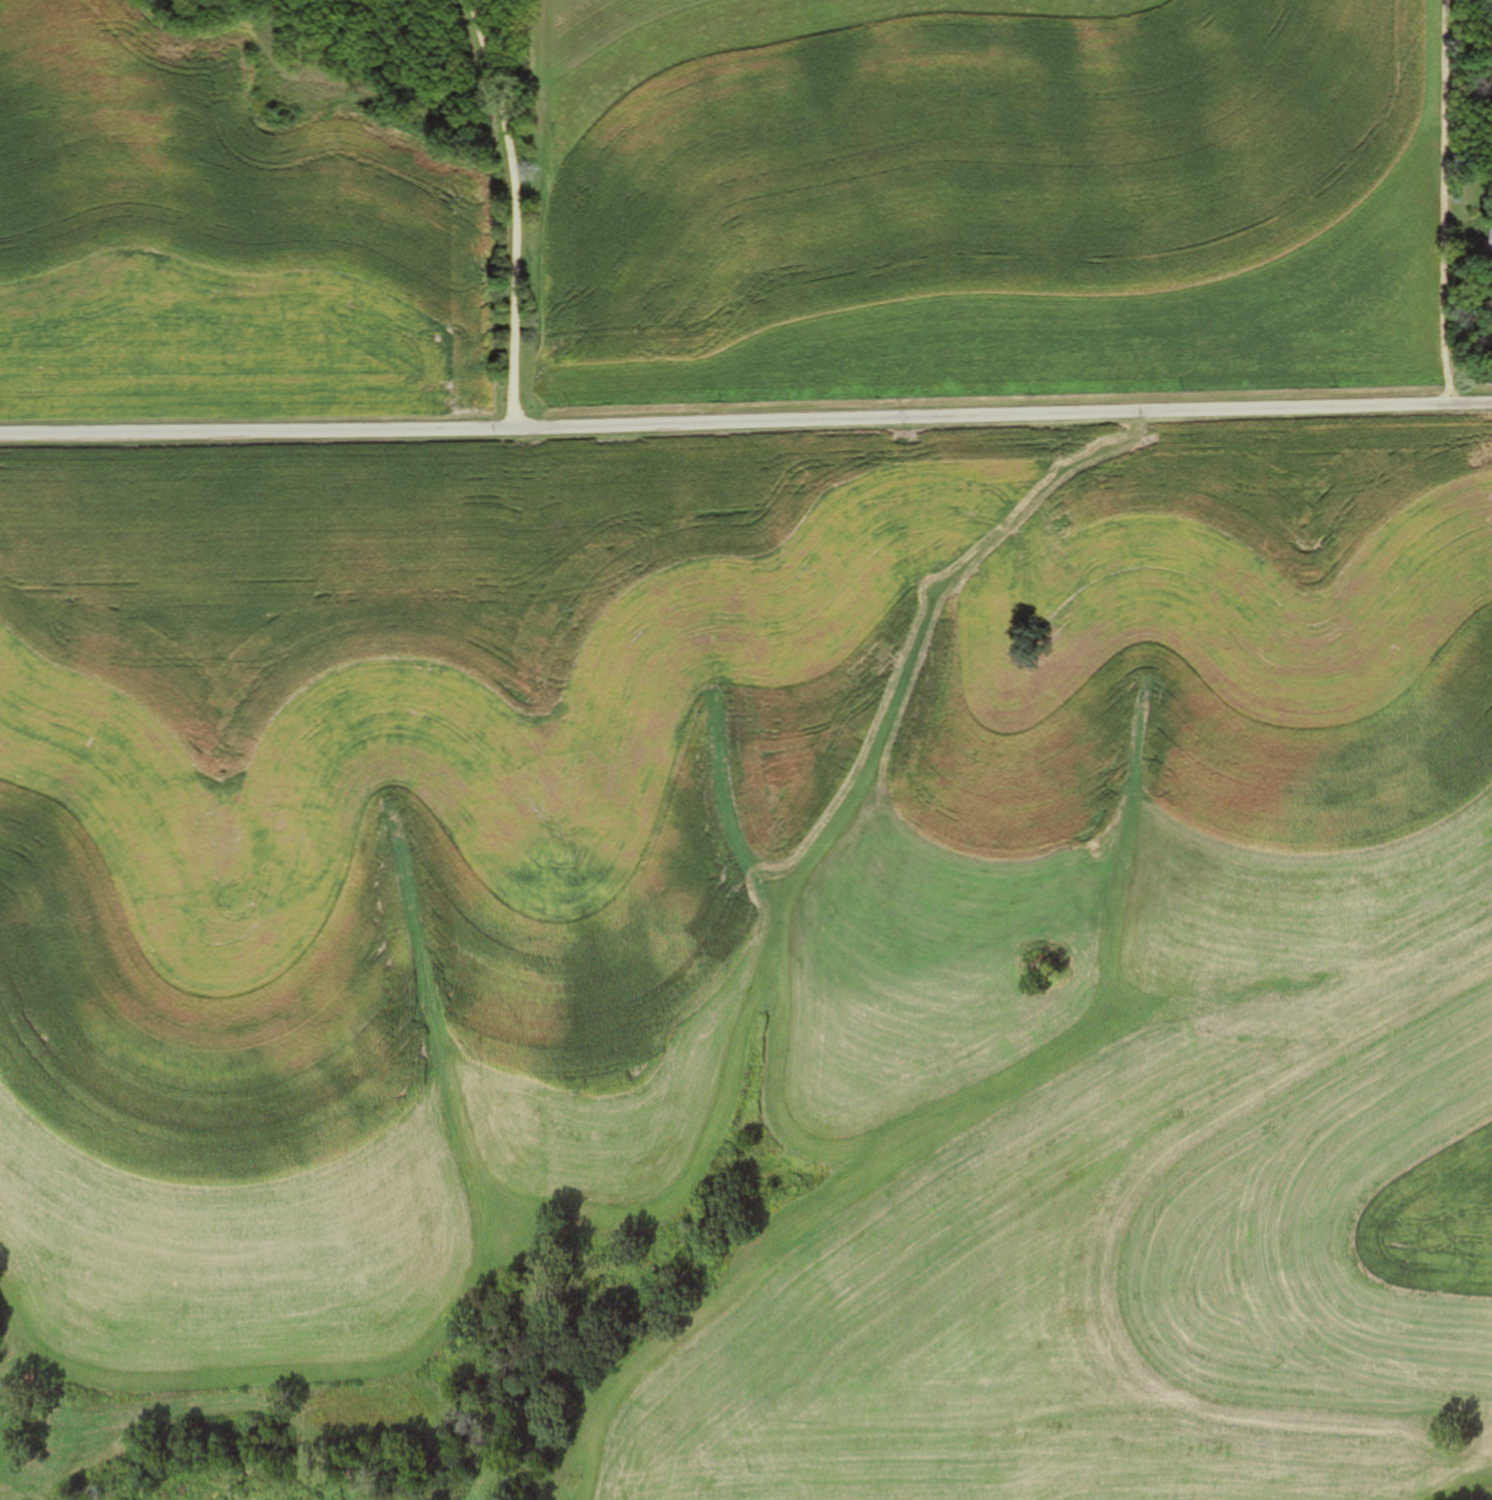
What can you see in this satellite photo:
road: (1468, 201)
road: (513, 209)
building: (1490, 242)
road: (746, 420)

